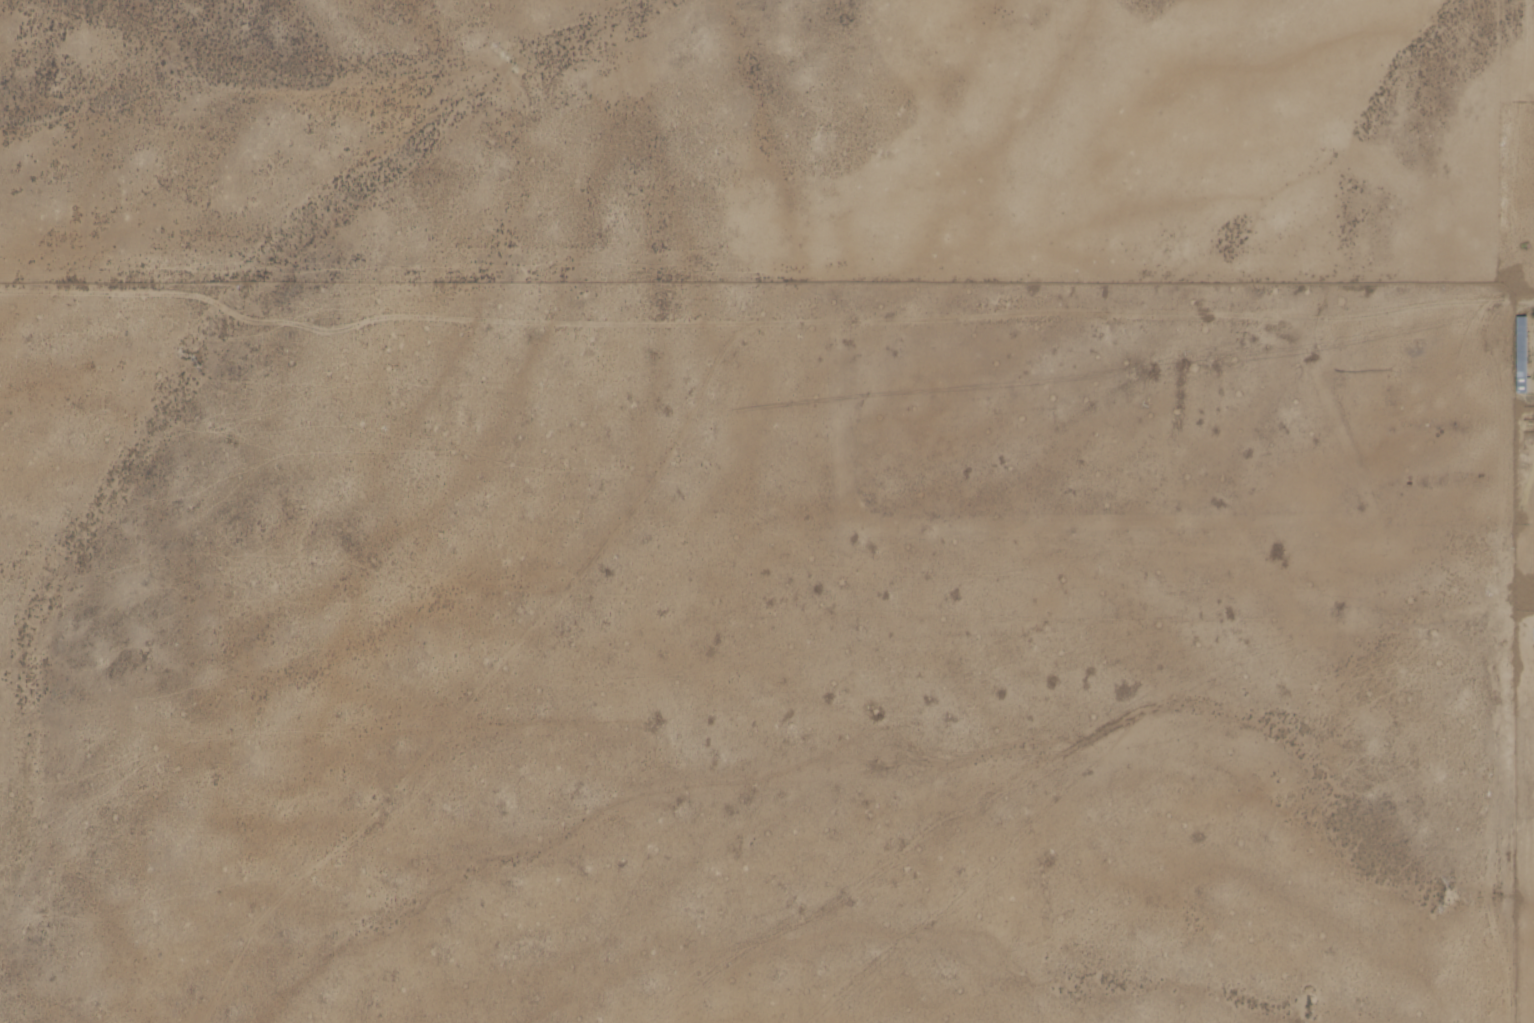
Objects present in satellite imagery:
road: (1522, 511)

